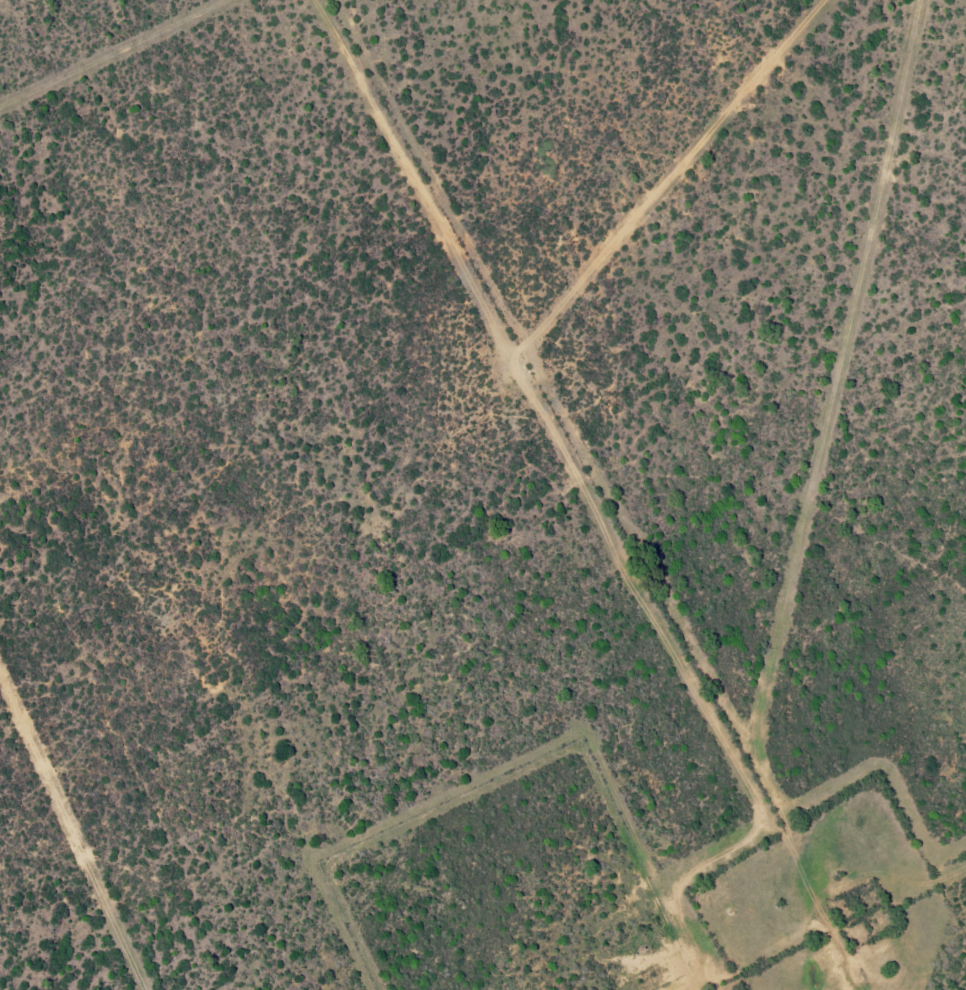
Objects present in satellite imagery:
road: (587, 458)

